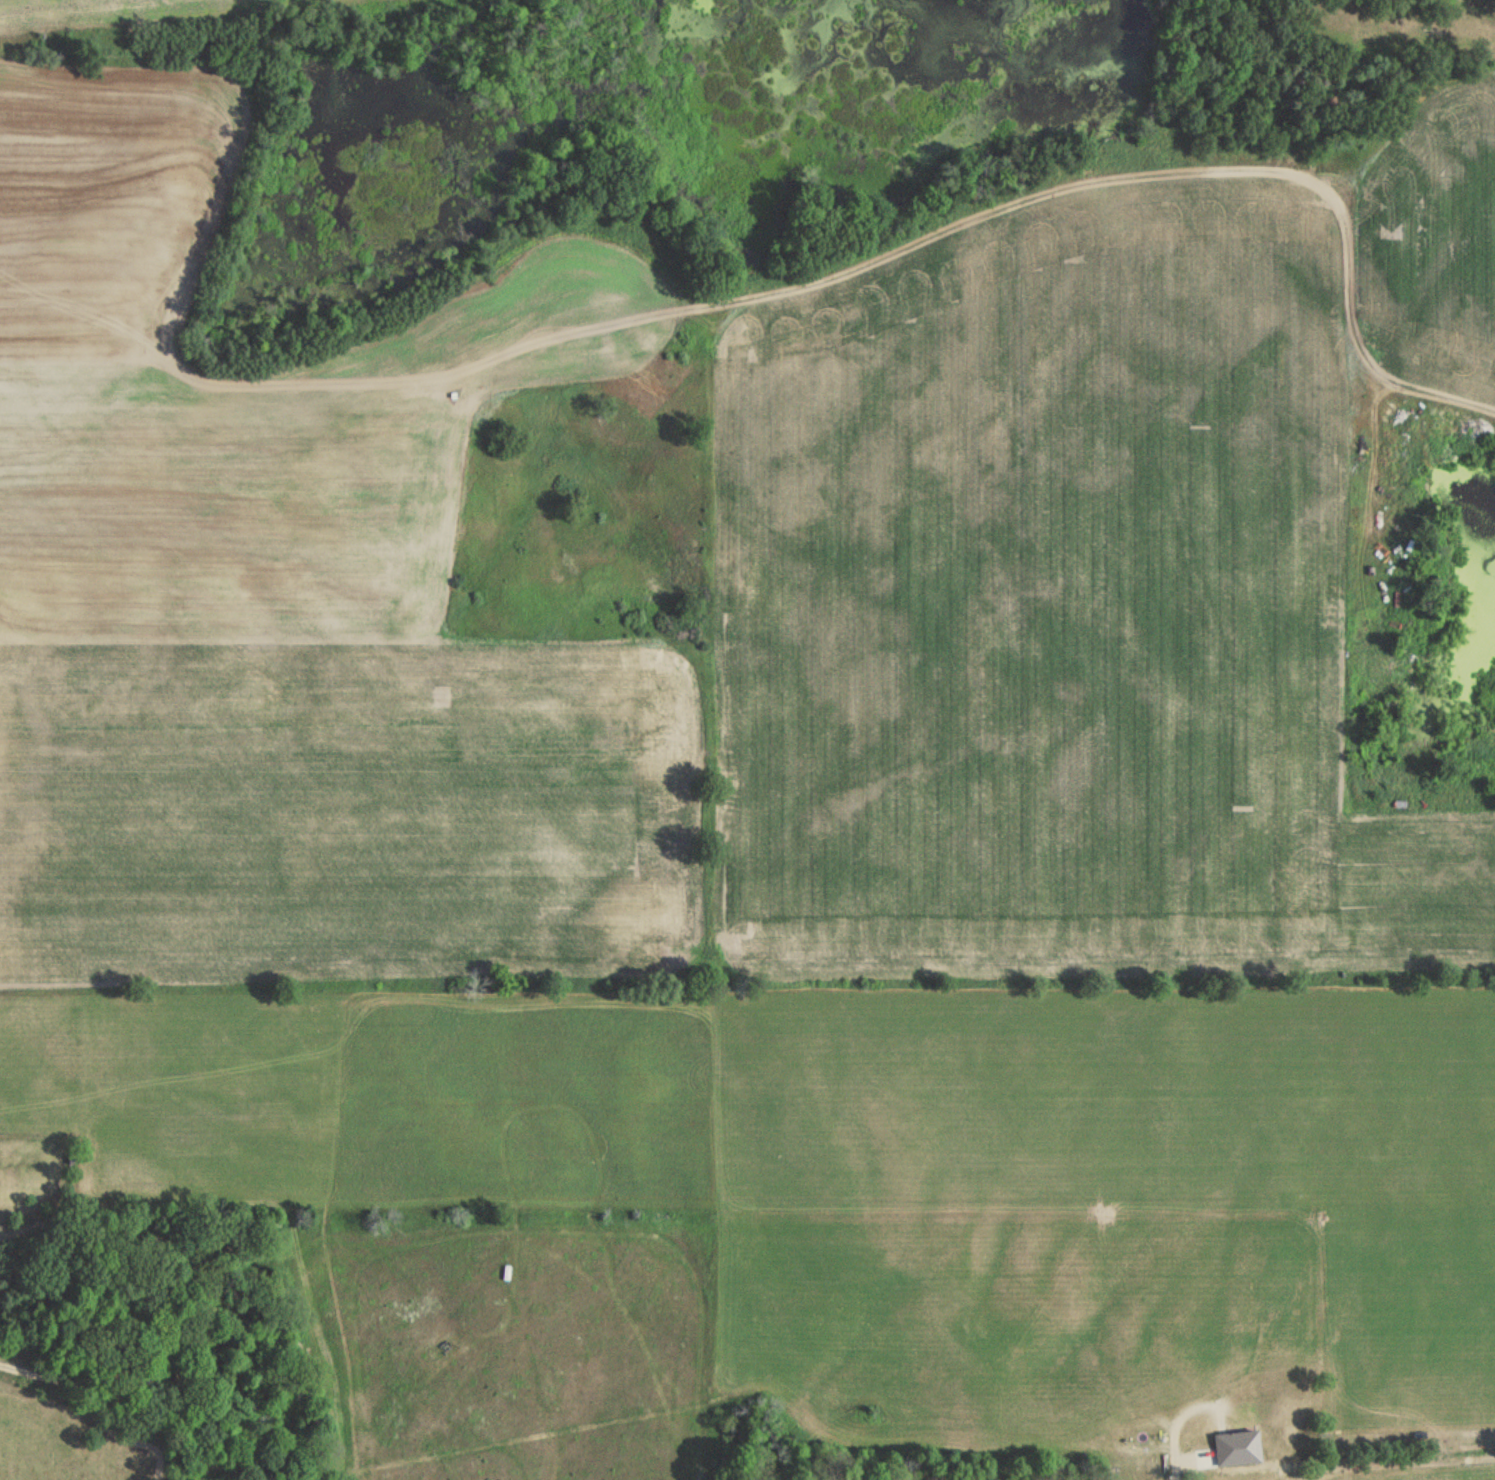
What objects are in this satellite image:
road: (1173, 1462)

